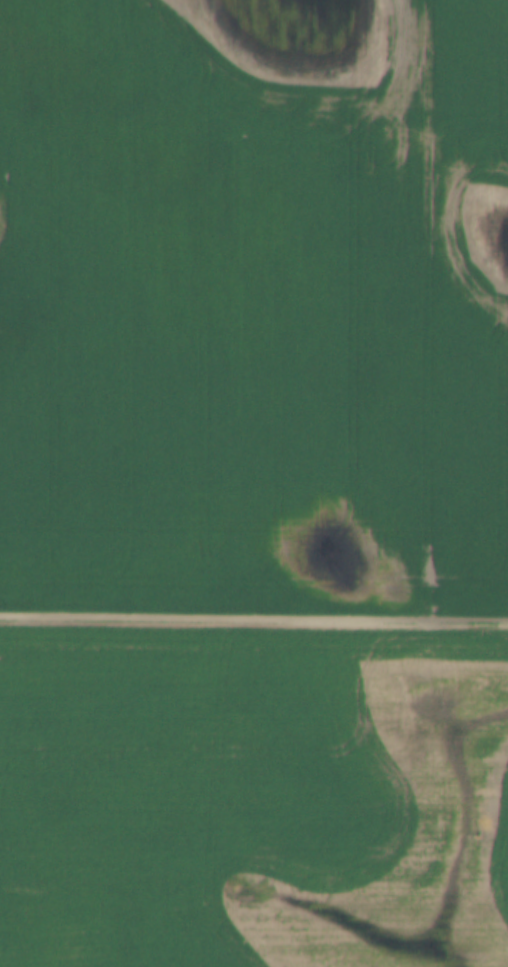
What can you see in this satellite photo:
road: (254, 620)

